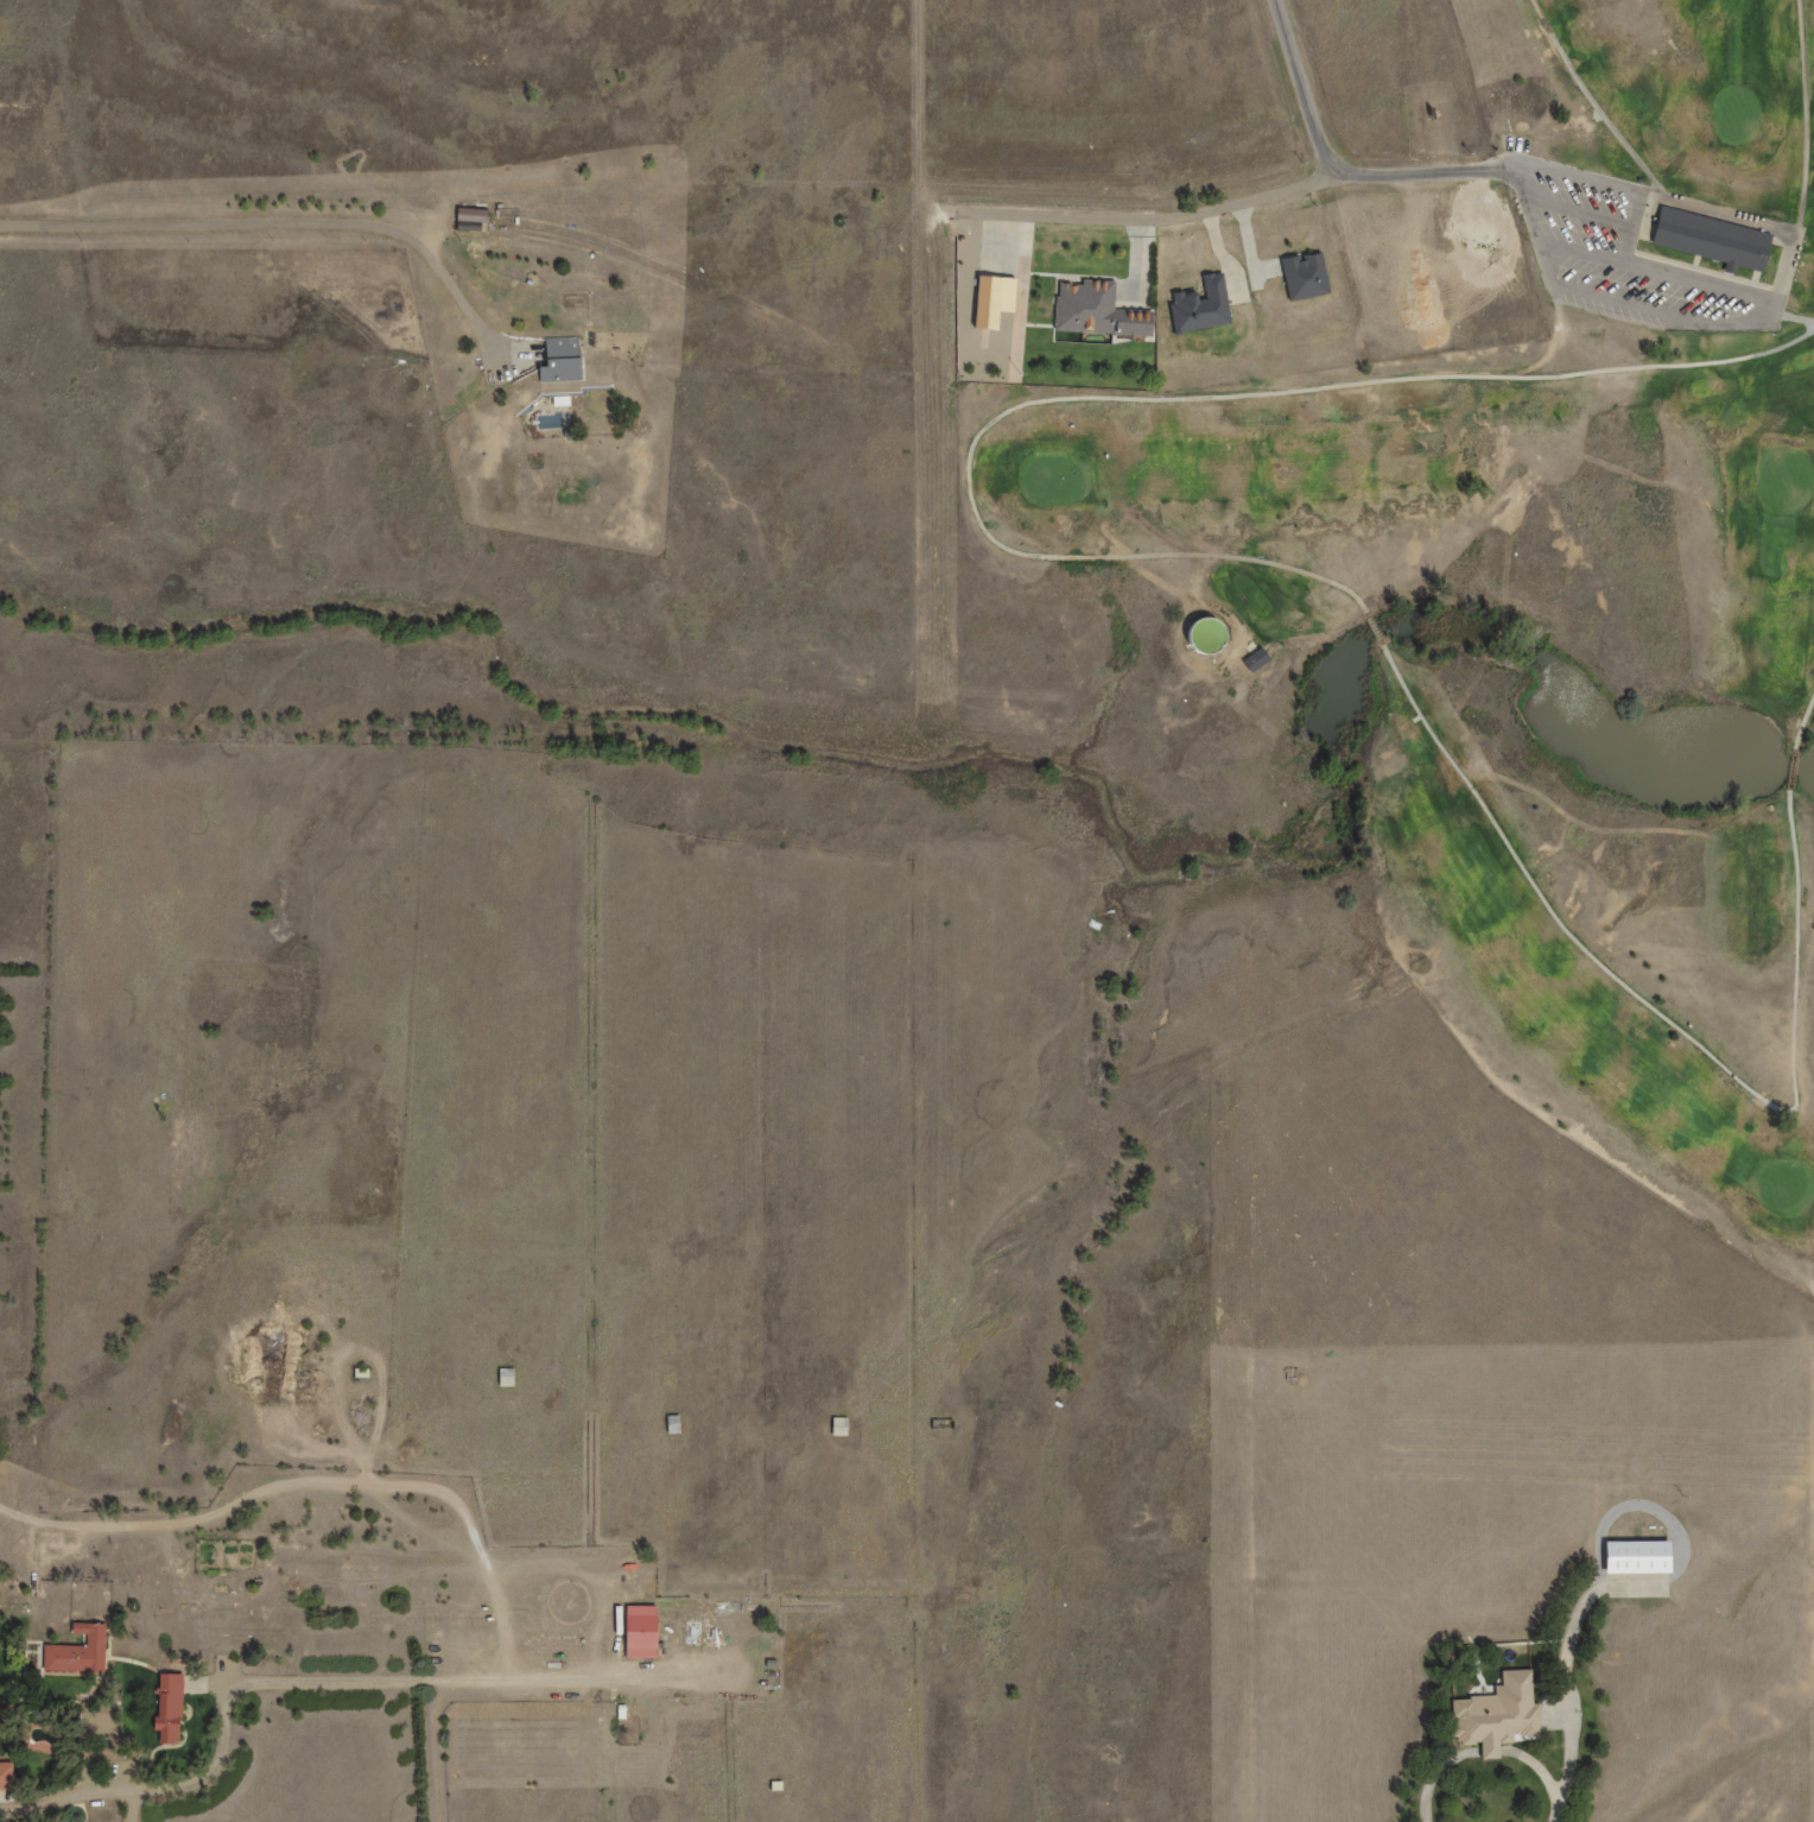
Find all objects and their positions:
road: (1302, 89)
road: (1593, 102)
road: (1806, 116)
road: (1236, 203)
road: (1578, 213)
road: (268, 222)
road: (1632, 227)
building: (1710, 239)
road: (1656, 272)
building: (1304, 276)
building: (989, 300)
building: (1200, 306)
road: (1775, 308)
building: (1093, 311)
road: (1793, 318)
building: (558, 361)
road: (1138, 398)
building: (559, 401)
building: (550, 422)
park: (1486, 590)
road: (1377, 632)
building: (1200, 637)
building: (1254, 659)
road: (1803, 722)
road: (1791, 771)
road: (1668, 1023)
building: (361, 1372)
building: (506, 1377)
building: (673, 1424)
building: (941, 1424)
building: (838, 1426)
road: (1669, 1520)
building: (1634, 1557)
building: (653, 1632)
building: (75, 1651)
road: (1572, 1698)
building: (164, 1707)
building: (1495, 1714)
road: (1480, 1752)

